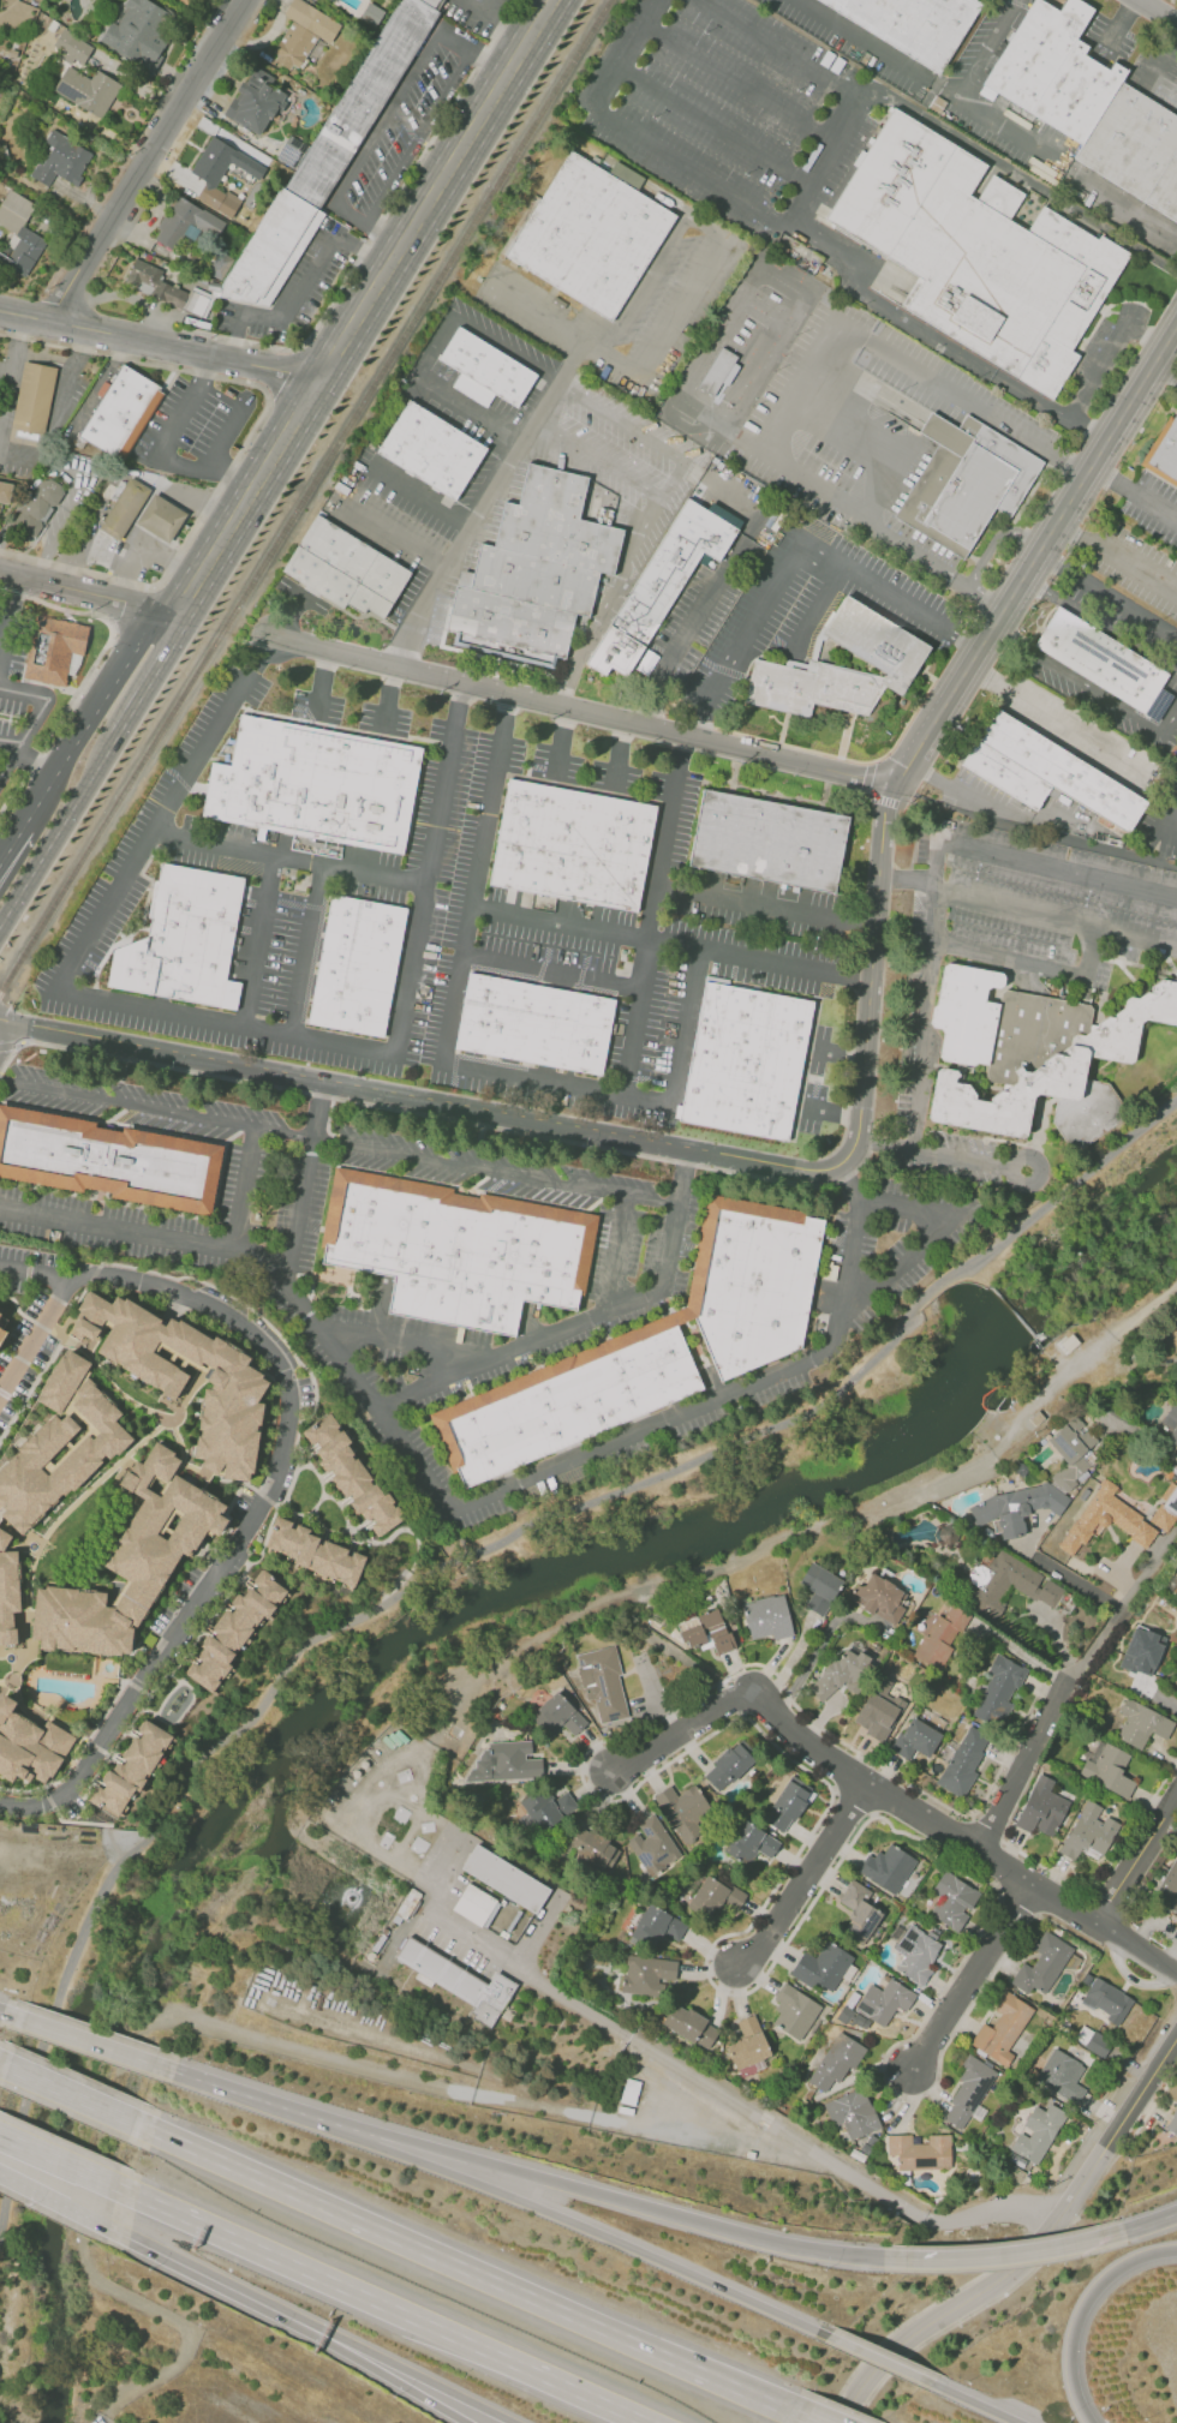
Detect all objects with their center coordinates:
building: (184, 1)
road: (1143, 1)
road: (1157, 12)
building: (914, 25)
building: (138, 31)
building: (301, 32)
building: (72, 46)
road: (984, 50)
road: (490, 58)
road: (741, 80)
road: (843, 86)
building: (86, 89)
building: (253, 101)
building: (1092, 104)
road: (383, 116)
road: (986, 121)
road: (715, 124)
road: (417, 133)
road: (637, 134)
road: (145, 158)
building: (59, 160)
building: (327, 160)
road: (997, 160)
building: (221, 174)
building: (1021, 217)
building: (185, 222)
road: (376, 225)
road: (383, 231)
building: (18, 234)
building: (593, 235)
building: (976, 253)
road: (1153, 257)
road: (657, 259)
road: (303, 287)
building: (167, 288)
road: (880, 303)
road: (363, 306)
road: (539, 312)
road: (26, 315)
road: (477, 328)
road: (1170, 333)
road: (185, 349)
road: (1105, 353)
road: (1158, 354)
road: (657, 355)
building: (484, 370)
building: (717, 370)
road: (282, 372)
road: (1164, 372)
road: (958, 390)
building: (132, 393)
road: (1028, 395)
building: (32, 399)
road: (1128, 403)
road: (468, 409)
road: (232, 417)
road: (620, 421)
building: (109, 429)
road: (1085, 430)
road: (245, 442)
road: (160, 449)
building: (430, 449)
road: (1097, 451)
road: (1068, 457)
building: (1166, 457)
road: (598, 459)
road: (777, 465)
road: (1088, 466)
railway: (292, 480)
building: (966, 483)
railway: (297, 489)
road: (1134, 490)
building: (5, 491)
railway: (301, 496)
road: (193, 497)
road: (419, 502)
building: (38, 507)
building: (145, 510)
road: (468, 519)
road: (1074, 533)
road: (398, 536)
road: (994, 539)
road: (791, 552)
road: (157, 554)
road: (97, 555)
road: (1135, 569)
building: (349, 572)
building: (538, 572)
road: (617, 584)
building: (662, 587)
road: (979, 590)
road: (86, 592)
road: (812, 610)
road: (8, 617)
road: (1099, 622)
road: (149, 632)
building: (880, 644)
building: (50, 650)
building: (1104, 659)
road: (90, 669)
road: (656, 676)
parking lot: (10, 680)
road: (155, 680)
road: (323, 681)
road: (1083, 684)
building: (813, 689)
road: (392, 696)
road: (1048, 710)
road: (582, 711)
road: (35, 718)
road: (71, 736)
road: (7, 747)
road: (834, 756)
road: (32, 762)
building: (1048, 773)
building: (317, 786)
road: (886, 794)
road: (868, 795)
road: (1166, 820)
road: (59, 832)
road: (1030, 833)
building: (767, 839)
road: (10, 842)
building: (575, 846)
road: (289, 856)
road: (1032, 866)
road: (908, 880)
road: (691, 893)
road: (1056, 923)
road: (586, 926)
road: (261, 940)
building: (187, 943)
road: (303, 947)
road: (1030, 964)
building: (359, 968)
road: (550, 969)
road: (5, 1015)
road: (633, 1017)
road: (204, 1018)
road: (922, 1022)
traffic signals: (12, 1023)
building: (536, 1025)
road: (6, 1035)
road: (8, 1046)
building: (1035, 1054)
building: (749, 1063)
road: (533, 1079)
road: (417, 1099)
road: (437, 1118)
road: (312, 1138)
road: (932, 1154)
road: (1036, 1160)
building: (108, 1162)
road: (305, 1184)
road: (246, 1187)
road: (1045, 1192)
road: (651, 1202)
road: (886, 1202)
building: (460, 1252)
road: (616, 1255)
building: (757, 1286)
road: (855, 1306)
road: (48, 1312)
road: (582, 1322)
building: (5, 1333)
road: (408, 1346)
building: (184, 1375)
building: (570, 1404)
building: (1169, 1423)
building: (1073, 1450)
road: (412, 1460)
building: (53, 1465)
road: (312, 1468)
building: (349, 1473)
road: (340, 1507)
building: (1017, 1507)
road: (858, 1512)
road: (252, 1519)
road: (315, 1520)
building: (1112, 1520)
road: (371, 1542)
building: (313, 1552)
building: (131, 1559)
road: (466, 1562)
road: (1070, 1579)
building: (1016, 1581)
building: (819, 1587)
building: (877, 1597)
road: (1124, 1605)
building: (766, 1616)
park: (556, 1621)
building: (234, 1629)
building: (703, 1632)
building: (940, 1635)
building: (1141, 1651)
road: (1021, 1655)
road: (807, 1663)
building: (840, 1674)
building: (1176, 1679)
building: (602, 1685)
building: (997, 1691)
building: (877, 1715)
building: (557, 1717)
building: (1141, 1723)
road: (685, 1736)
building: (915, 1739)
building: (29, 1746)
building: (506, 1761)
building: (962, 1763)
road: (1023, 1765)
building: (728, 1766)
building: (1107, 1767)
building: (130, 1769)
building: (787, 1805)
building: (1041, 1807)
building: (542, 1811)
building: (682, 1811)
road: (79, 1820)
road: (137, 1826)
building: (1089, 1833)
road: (958, 1842)
building: (749, 1843)
building: (591, 1848)
road: (1136, 1860)
building: (888, 1867)
building: (504, 1878)
road: (813, 1889)
building: (1169, 1891)
building: (715, 1896)
building: (952, 1901)
building: (476, 1904)
building: (405, 1906)
building: (859, 1912)
building: (656, 1926)
building: (915, 1954)
building: (1041, 1966)
building: (821, 1967)
building: (646, 1974)
road: (973, 1976)
building: (462, 1984)
road: (1172, 1984)
building: (1106, 1999)
building: (884, 2002)
building: (794, 2011)
road: (11, 2014)
building: (682, 2021)
road: (221, 2023)
building: (1002, 2028)
building: (706, 2034)
road: (88, 2040)
building: (1093, 2041)
building: (747, 2044)
building: (836, 2060)
road: (4, 2063)
road: (674, 2064)
building: (1062, 2076)
road: (71, 2093)
building: (968, 2093)
road: (255, 2096)
road: (1117, 2102)
building: (852, 2112)
building: (1172, 2123)
building: (1038, 2132)
building: (920, 2150)
road: (58, 2159)
road: (54, 2201)
road: (631, 2202)
road: (1042, 2213)
road: (991, 2214)
road: (1140, 2226)
road: (597, 2233)
road: (1004, 2254)
road: (1028, 2254)
road: (466, 2268)
road: (1035, 2268)
road: (210, 2279)
road: (381, 2304)
road: (1080, 2309)
road: (913, 2316)
road: (322, 2331)
road: (319, 2337)
road: (878, 2359)
road: (420, 2377)
road: (398, 2382)
road: (972, 2401)
road: (100, 2419)
road: (806, 2419)

